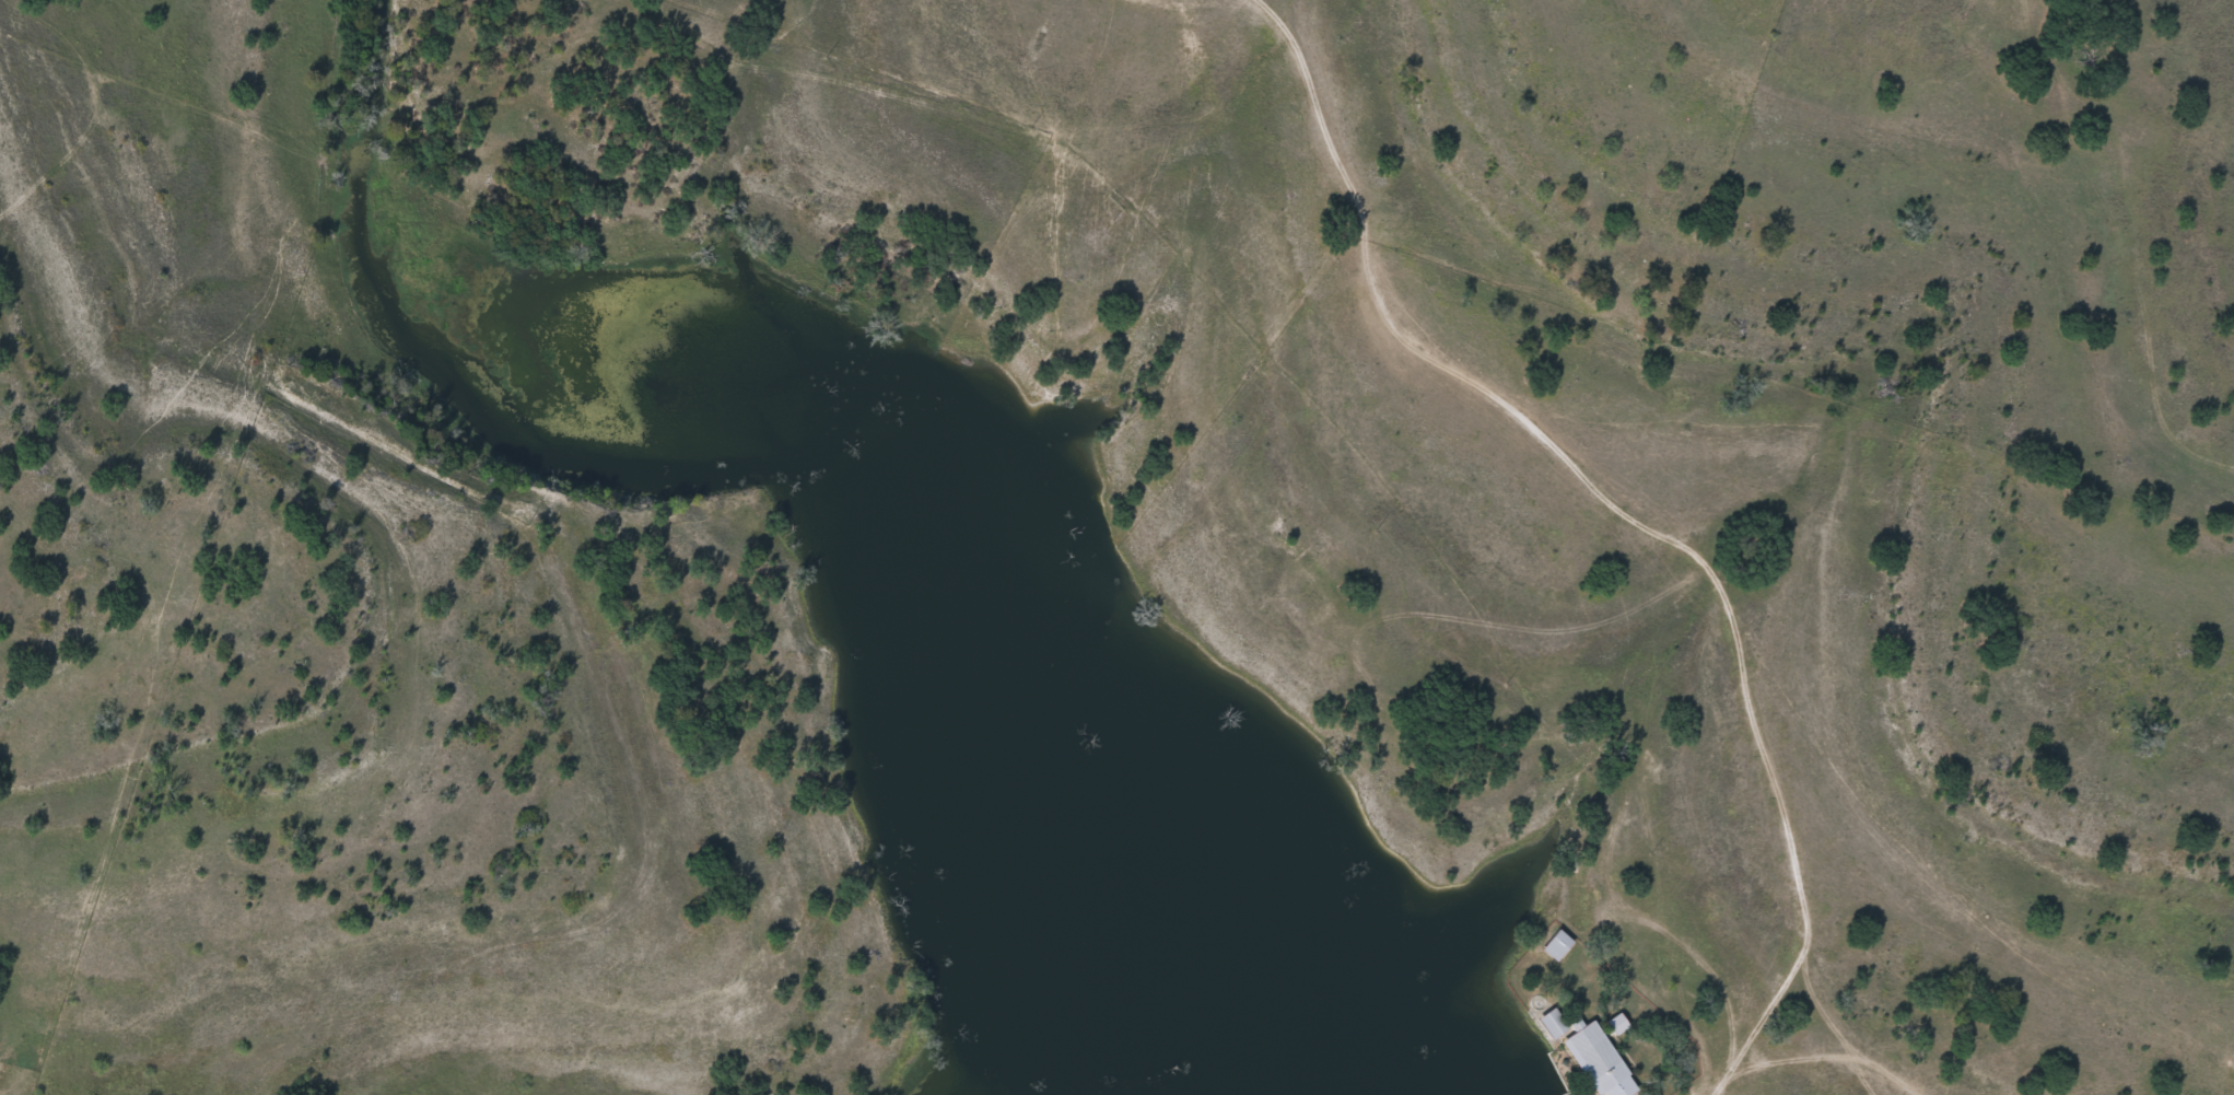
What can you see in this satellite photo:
building: (1557, 944)
building: (1554, 1023)
building: (1600, 1061)

